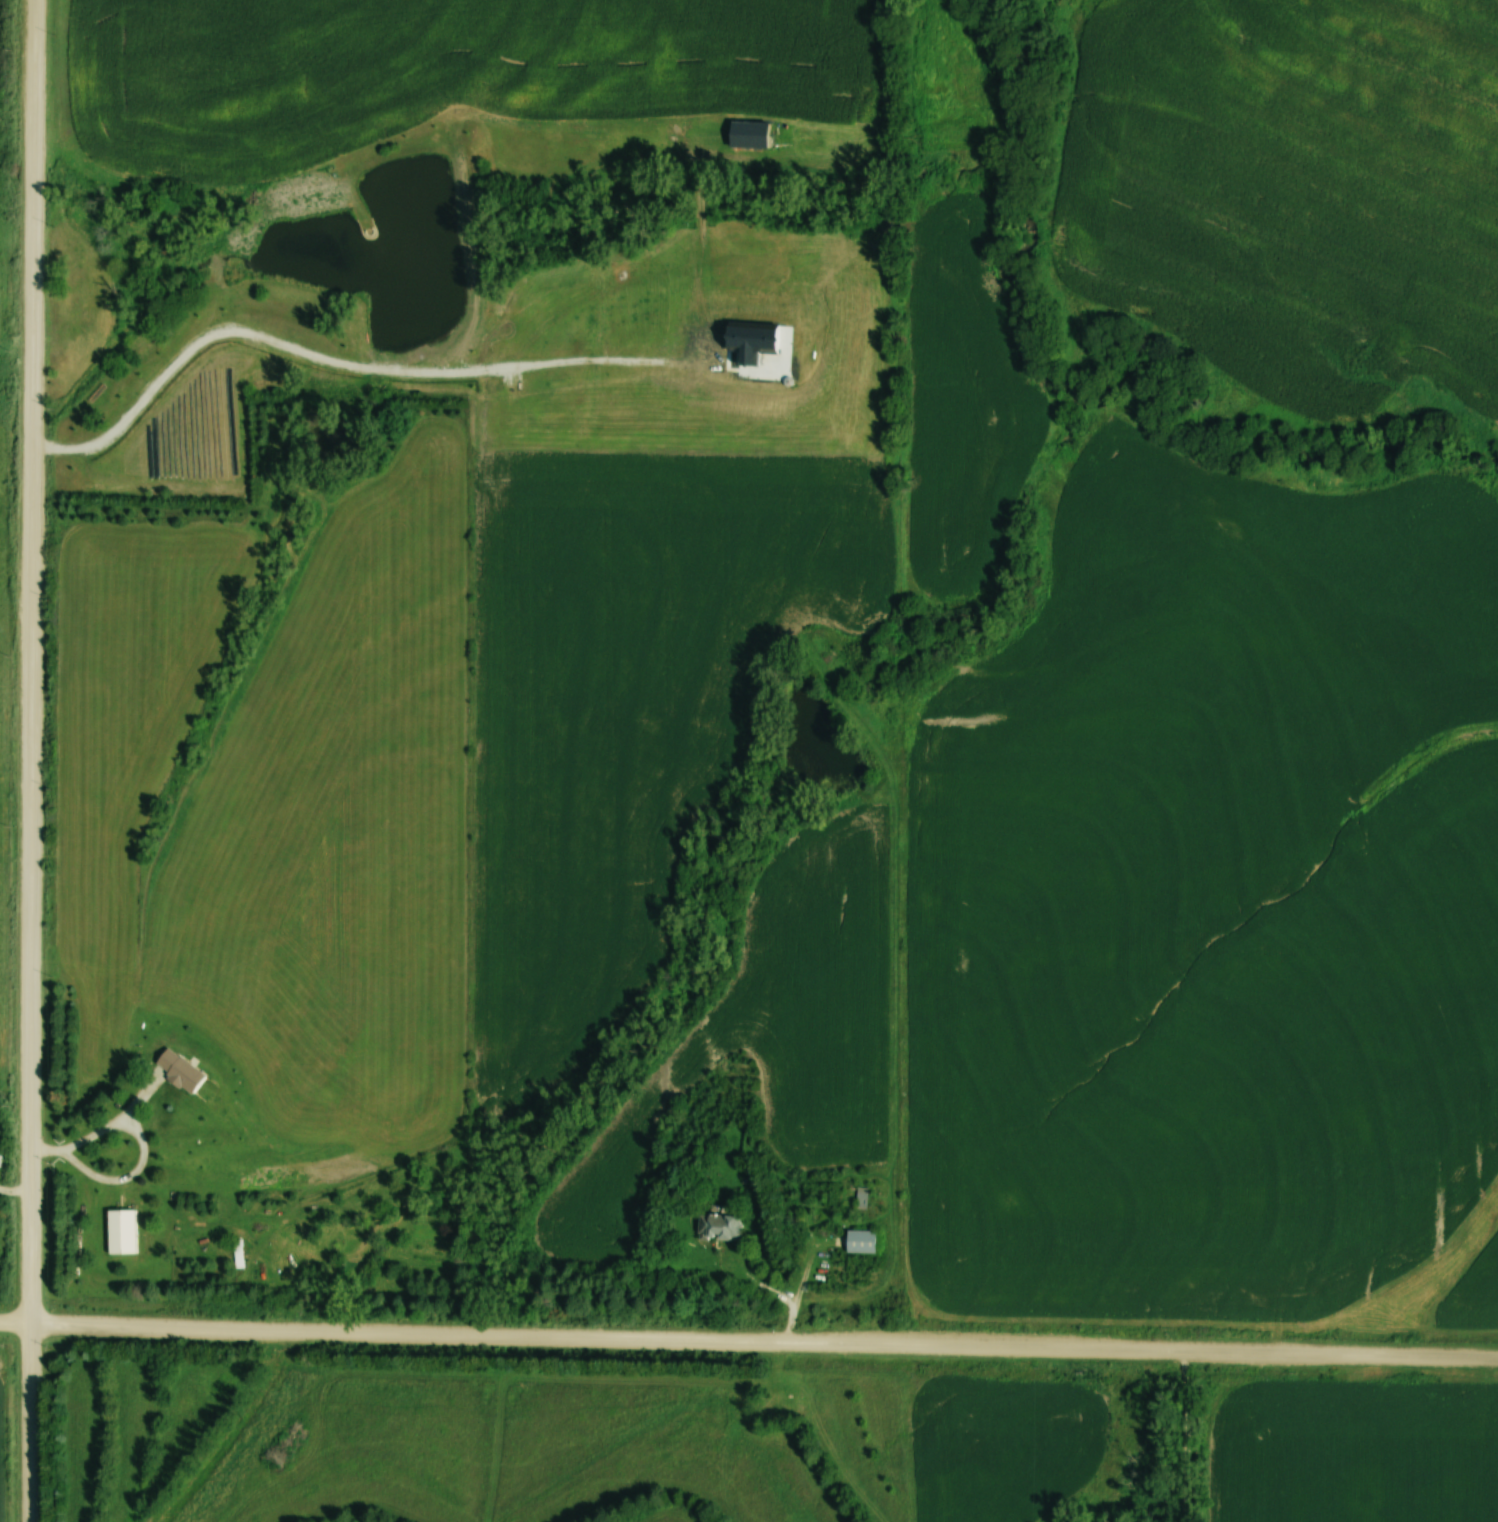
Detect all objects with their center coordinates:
dam: (470, 229)
road: (31, 663)
building: (178, 1070)
road: (102, 1132)
building: (861, 1197)
building: (719, 1226)
building: (120, 1232)
building: (859, 1241)
building: (237, 1253)
road: (748, 1340)
road: (29, 1424)
road: (1186, 1435)

